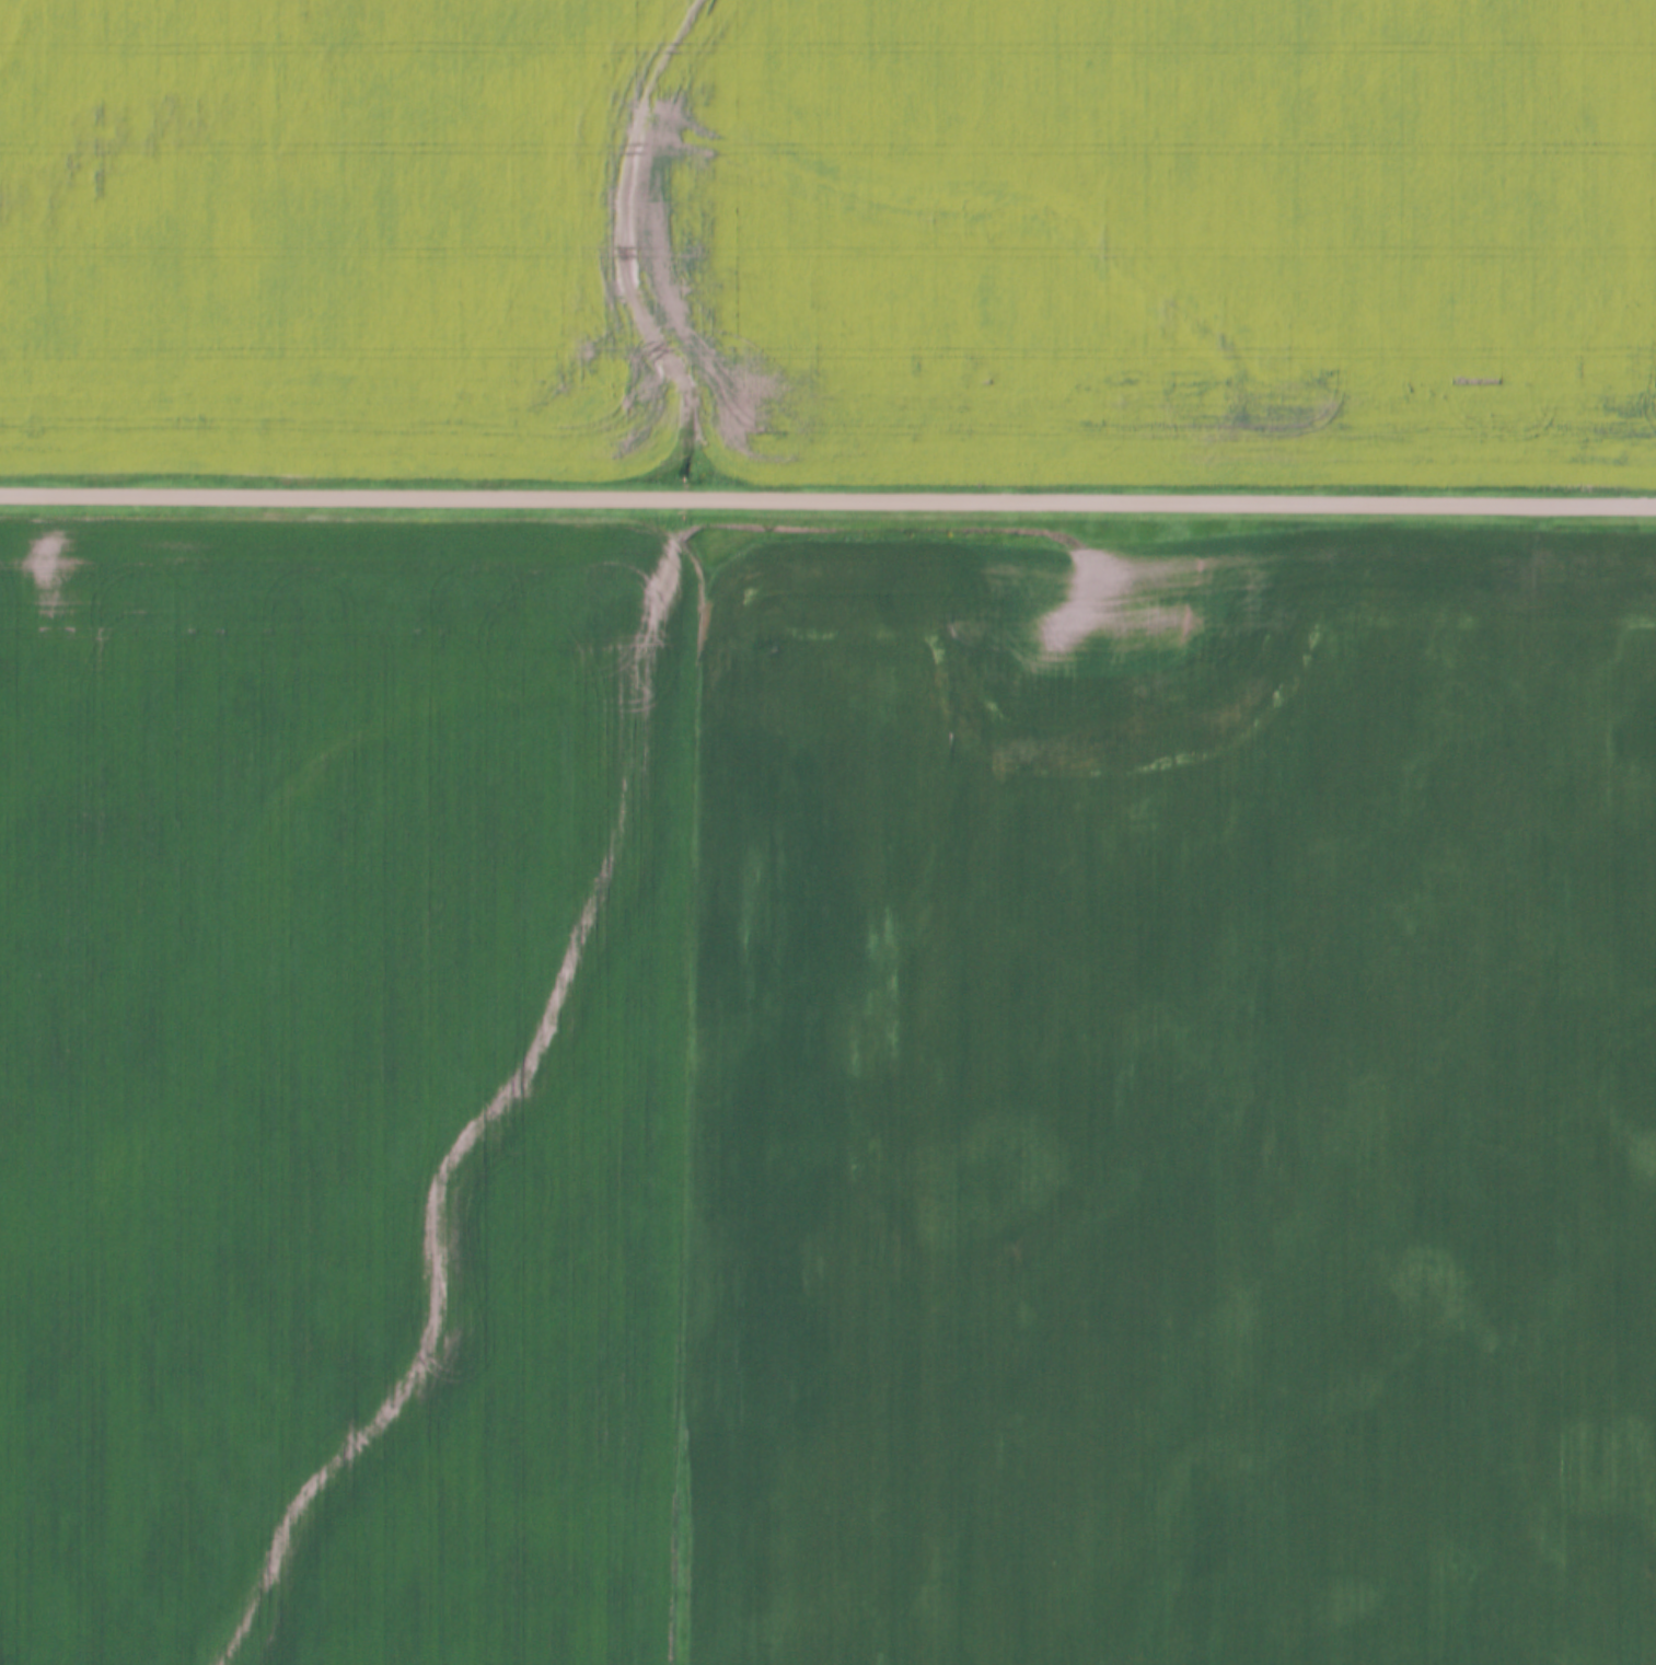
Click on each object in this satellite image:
road: (827, 492)

